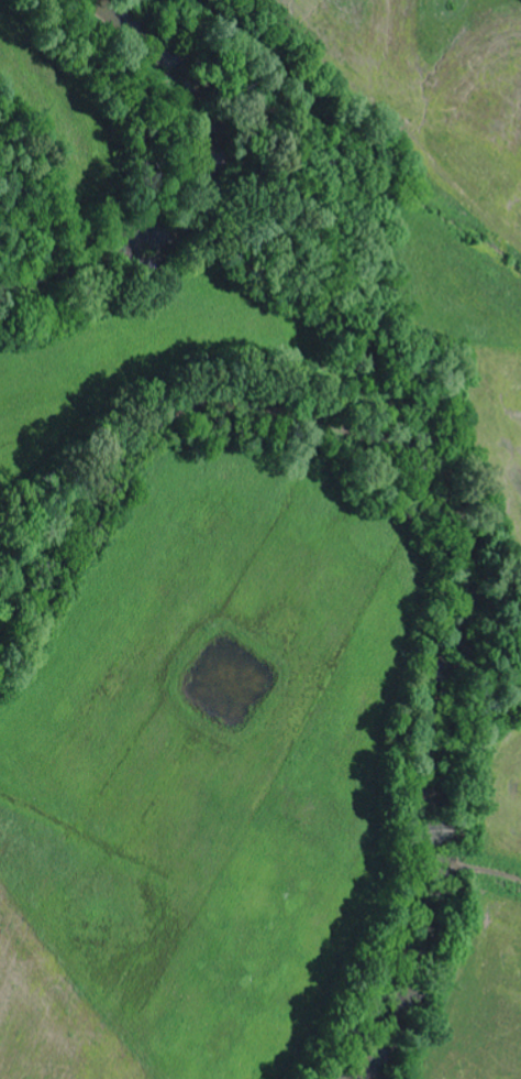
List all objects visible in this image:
river: (211, 192)
river: (456, 497)

